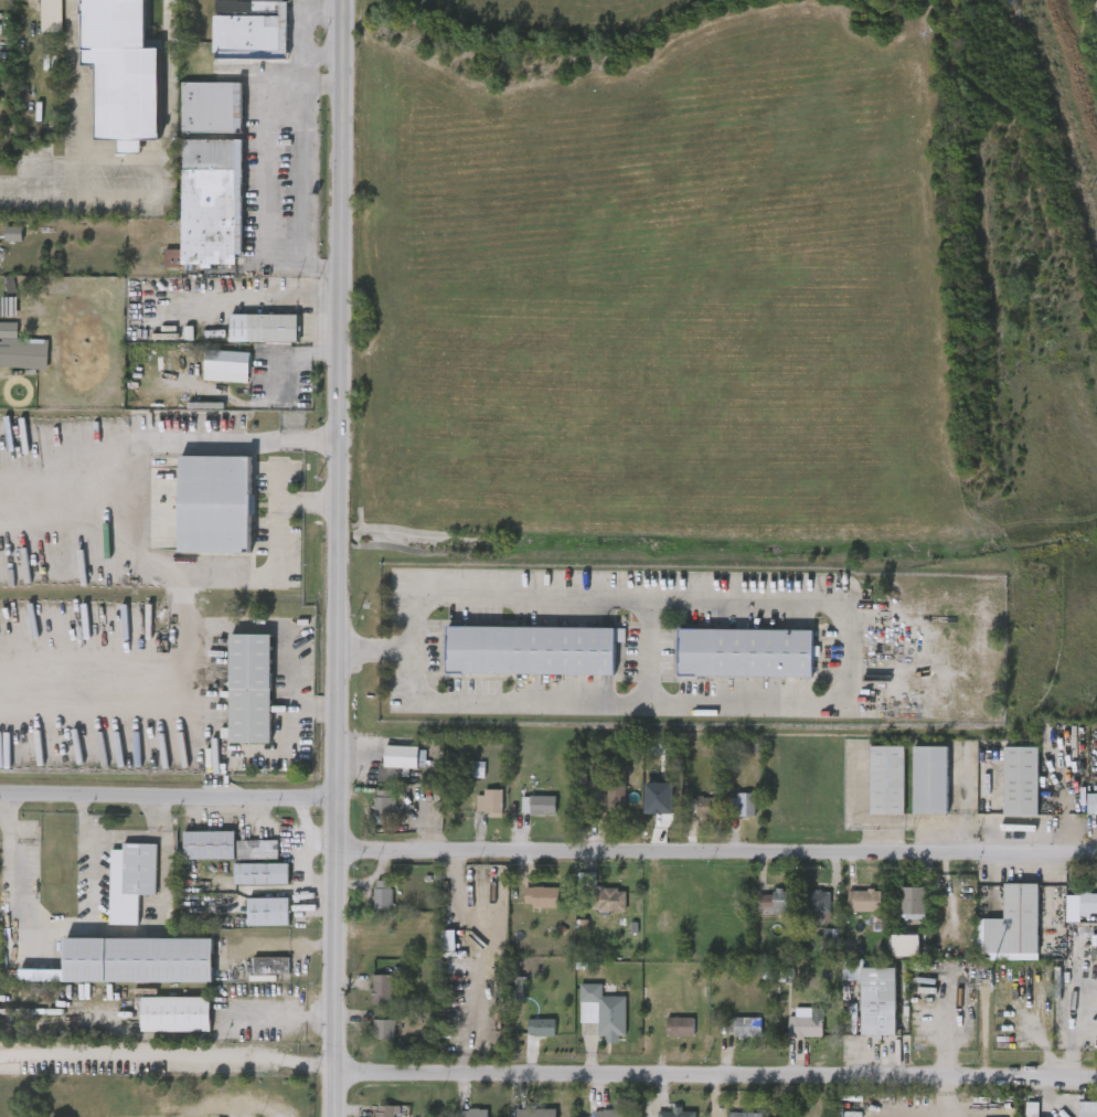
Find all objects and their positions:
road: (28, 7)
building: (253, 7)
building: (52, 17)
road: (309, 35)
building: (249, 38)
road: (321, 54)
building: (123, 72)
building: (211, 107)
road: (268, 169)
road: (305, 172)
building: (209, 204)
building: (13, 233)
road: (270, 295)
building: (262, 329)
building: (20, 348)
building: (225, 362)
building: (215, 504)
road: (121, 538)
road: (336, 558)
road: (185, 603)
road: (187, 640)
road: (840, 642)
road: (358, 648)
building: (533, 650)
building: (742, 652)
building: (248, 689)
road: (94, 690)
building: (402, 757)
building: (886, 780)
building: (928, 780)
building: (1019, 780)
building: (616, 792)
road: (168, 797)
building: (659, 799)
building: (488, 802)
building: (383, 804)
building: (1091, 804)
building: (743, 805)
building: (539, 806)
building: (709, 807)
building: (224, 847)
road: (717, 852)
road: (92, 860)
building: (260, 874)
building: (129, 881)
road: (23, 894)
road: (164, 895)
building: (381, 895)
building: (542, 898)
building: (609, 901)
building: (912, 901)
building: (864, 902)
building: (775, 903)
building: (818, 904)
building: (1087, 904)
building: (268, 912)
building: (1014, 922)
building: (381, 940)
building: (448, 940)
building: (904, 945)
building: (140, 959)
building: (269, 966)
building: (381, 989)
building: (874, 999)
building: (603, 1012)
building: (174, 1014)
road: (283, 1015)
building: (806, 1025)
building: (679, 1026)
building: (541, 1028)
building: (748, 1028)
building: (382, 1029)
road: (169, 1056)
road: (717, 1075)
building: (1033, 1109)
building: (1087, 1109)
building: (388, 1111)
building: (535, 1113)
building: (838, 1113)
building: (472, 1114)
building: (614, 1114)
building: (675, 1114)
building: (746, 1115)

